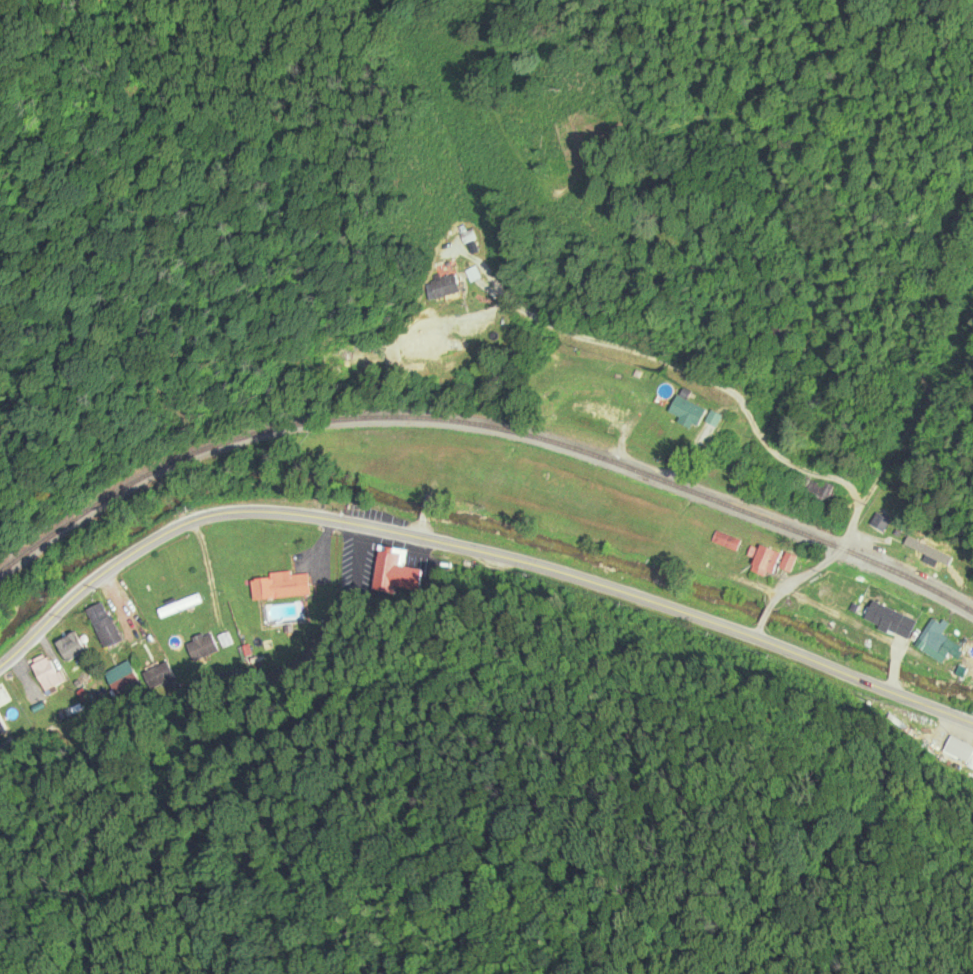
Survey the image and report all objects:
road: (802, 216)
building: (467, 237)
building: (444, 286)
road: (642, 289)
building: (779, 327)
building: (424, 341)
road: (723, 356)
building: (336, 361)
road: (775, 394)
building: (592, 410)
building: (686, 410)
road: (912, 416)
railway: (485, 426)
building: (814, 492)
road: (425, 514)
building: (725, 541)
road: (473, 550)
building: (931, 557)
building: (766, 561)
building: (395, 572)
building: (280, 586)
building: (179, 606)
building: (889, 620)
road: (762, 621)
building: (103, 626)
building: (936, 642)
building: (71, 647)
building: (201, 648)
building: (45, 673)
building: (161, 676)
building: (1, 727)
building: (959, 752)
road: (173, 790)
road: (282, 909)

